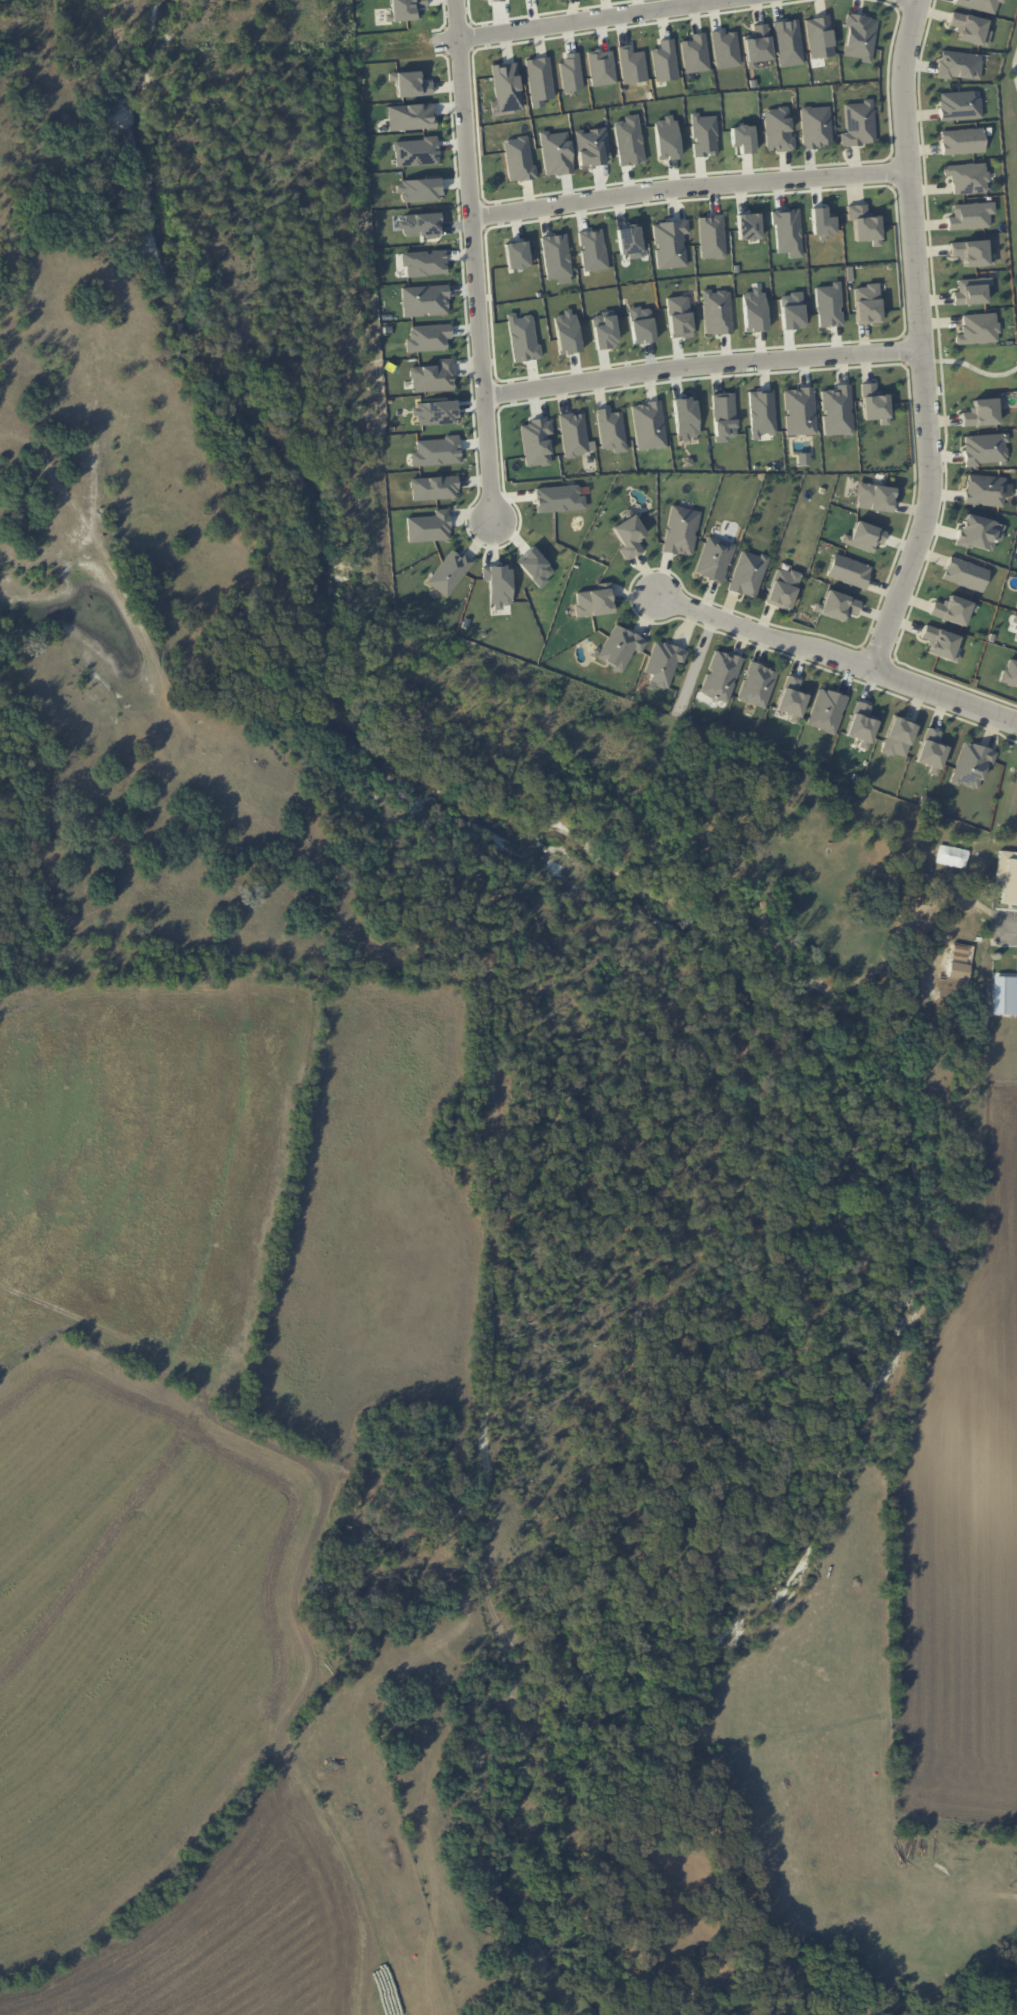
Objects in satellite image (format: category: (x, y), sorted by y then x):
building: (979, 4)
building: (405, 9)
road: (578, 20)
building: (970, 28)
building: (818, 36)
building: (859, 37)
building: (787, 42)
building: (757, 45)
building: (725, 49)
building: (695, 53)
building: (664, 61)
building: (632, 64)
building: (959, 65)
road: (1015, 66)
building: (601, 67)
building: (571, 73)
building: (539, 78)
building: (410, 84)
building: (506, 86)
building: (959, 106)
building: (410, 116)
building: (858, 123)
building: (815, 126)
building: (777, 129)
building: (704, 135)
building: (666, 137)
building: (742, 138)
building: (628, 140)
building: (961, 141)
building: (415, 152)
building: (967, 177)
road: (689, 187)
building: (418, 189)
building: (970, 215)
building: (821, 223)
building: (420, 224)
building: (863, 224)
building: (747, 226)
building: (787, 232)
building: (711, 236)
building: (629, 241)
building: (594, 248)
building: (971, 252)
building: (519, 256)
building: (558, 257)
road: (476, 260)
building: (425, 261)
building: (970, 291)
building: (426, 299)
building: (866, 304)
building: (828, 305)
building: (719, 309)
building: (753, 310)
building: (791, 311)
building: (682, 316)
building: (643, 324)
building: (978, 328)
building: (570, 330)
building: (608, 330)
building: (430, 337)
building: (525, 337)
road: (921, 338)
road: (906, 349)
road: (923, 361)
road: (702, 364)
road: (905, 364)
road: (851, 367)
road: (978, 369)
building: (435, 376)
building: (877, 403)
building: (802, 410)
building: (839, 411)
building: (439, 412)
building: (764, 412)
building: (982, 412)
building: (726, 416)
building: (688, 417)
building: (649, 424)
building: (612, 428)
building: (574, 431)
building: (538, 441)
building: (984, 449)
building: (439, 450)
building: (802, 458)
building: (435, 487)
building: (984, 490)
building: (561, 497)
building: (874, 497)
building: (431, 525)
building: (680, 530)
building: (978, 532)
building: (628, 536)
building: (863, 536)
building: (714, 558)
building: (537, 565)
building: (452, 571)
building: (848, 571)
building: (748, 573)
building: (965, 574)
building: (500, 584)
building: (782, 588)
building: (594, 601)
building: (838, 605)
building: (952, 609)
building: (1015, 636)
building: (940, 642)
road: (862, 646)
building: (620, 647)
road: (877, 653)
road: (837, 656)
building: (663, 663)
building: (1009, 672)
building: (720, 676)
road: (953, 681)
building: (757, 685)
building: (790, 699)
building: (826, 710)
building: (861, 724)
building: (898, 737)
building: (931, 750)
building: (971, 764)
building: (960, 855)
building: (965, 920)
road: (1011, 927)
building: (1000, 998)

